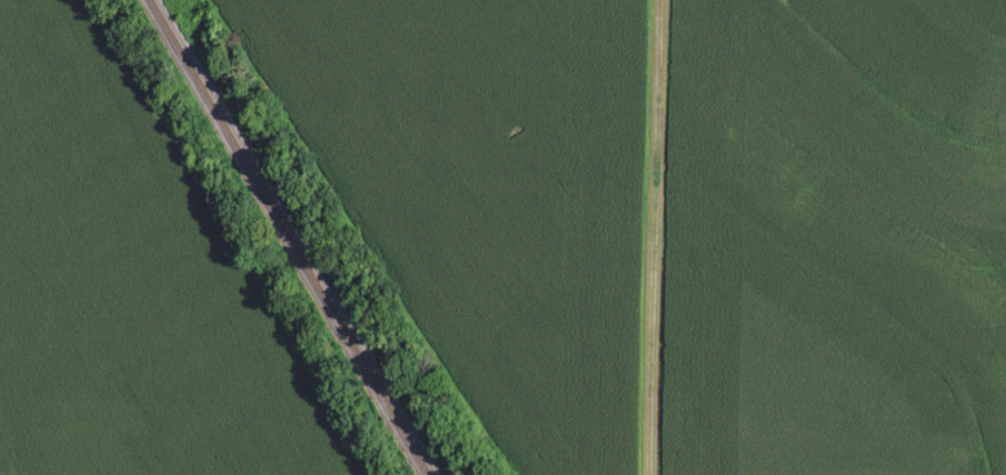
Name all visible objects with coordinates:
railway: (290, 237)
road: (650, 237)

